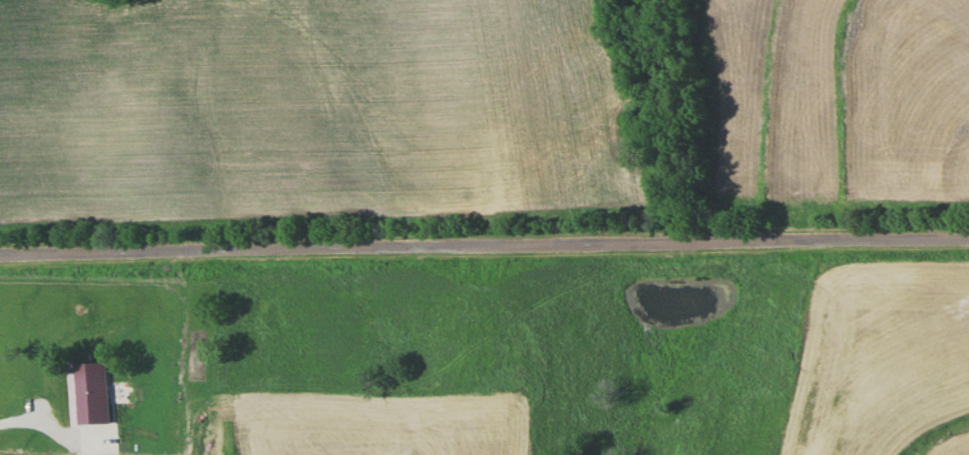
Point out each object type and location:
road: (484, 245)
building: (86, 379)
road: (46, 420)

